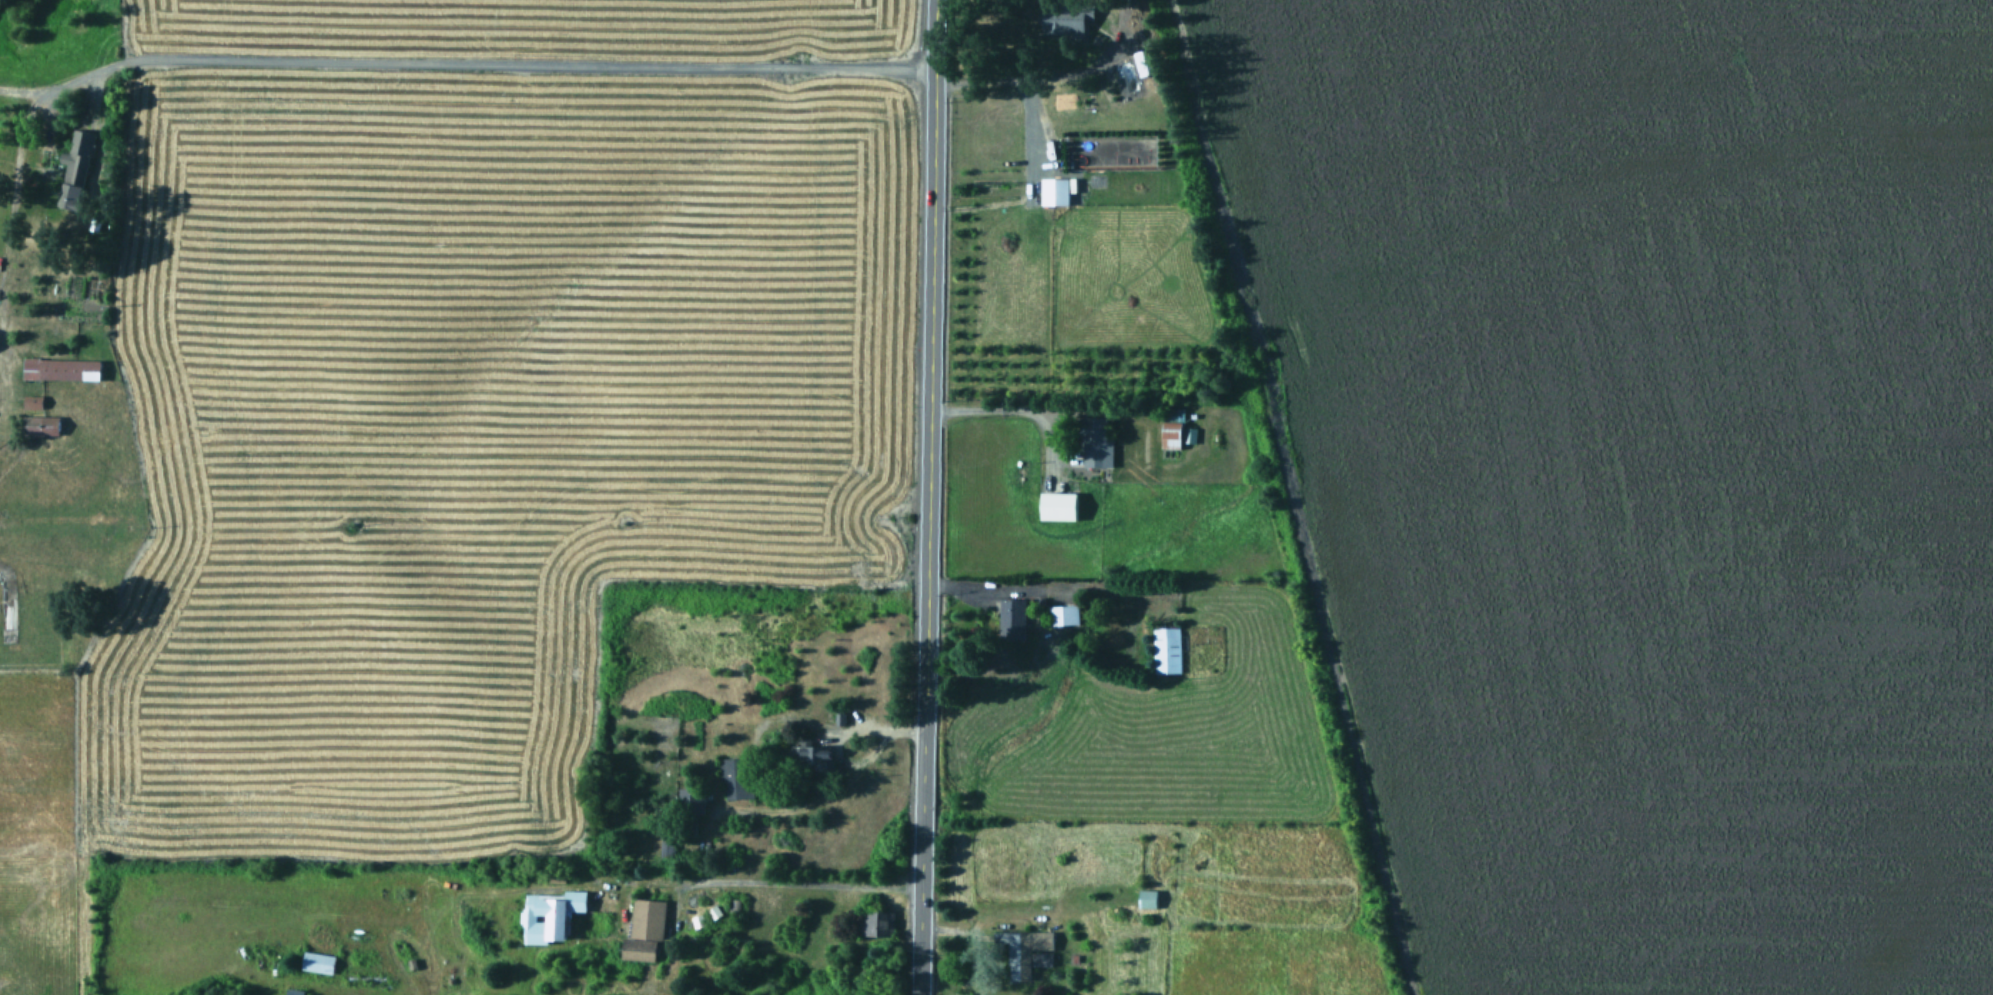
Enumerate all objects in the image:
building: (1057, 19)
road: (510, 63)
building: (1145, 66)
road: (1015, 79)
road: (57, 84)
road: (13, 91)
building: (74, 169)
road: (14, 179)
building: (1055, 191)
building: (61, 368)
building: (32, 402)
road: (997, 405)
building: (40, 425)
building: (1171, 435)
building: (1092, 442)
crop: (1650, 466)
crop: (440, 495)
road: (926, 497)
building: (1053, 504)
road: (983, 585)
building: (1064, 615)
building: (1011, 619)
building: (1166, 651)
road: (831, 726)
building: (810, 762)
building: (736, 777)
building: (692, 802)
road: (757, 879)
building: (1147, 899)
building: (547, 913)
building: (873, 923)
building: (644, 930)
building: (1016, 953)
building: (315, 960)
building: (290, 991)
building: (874, 994)

